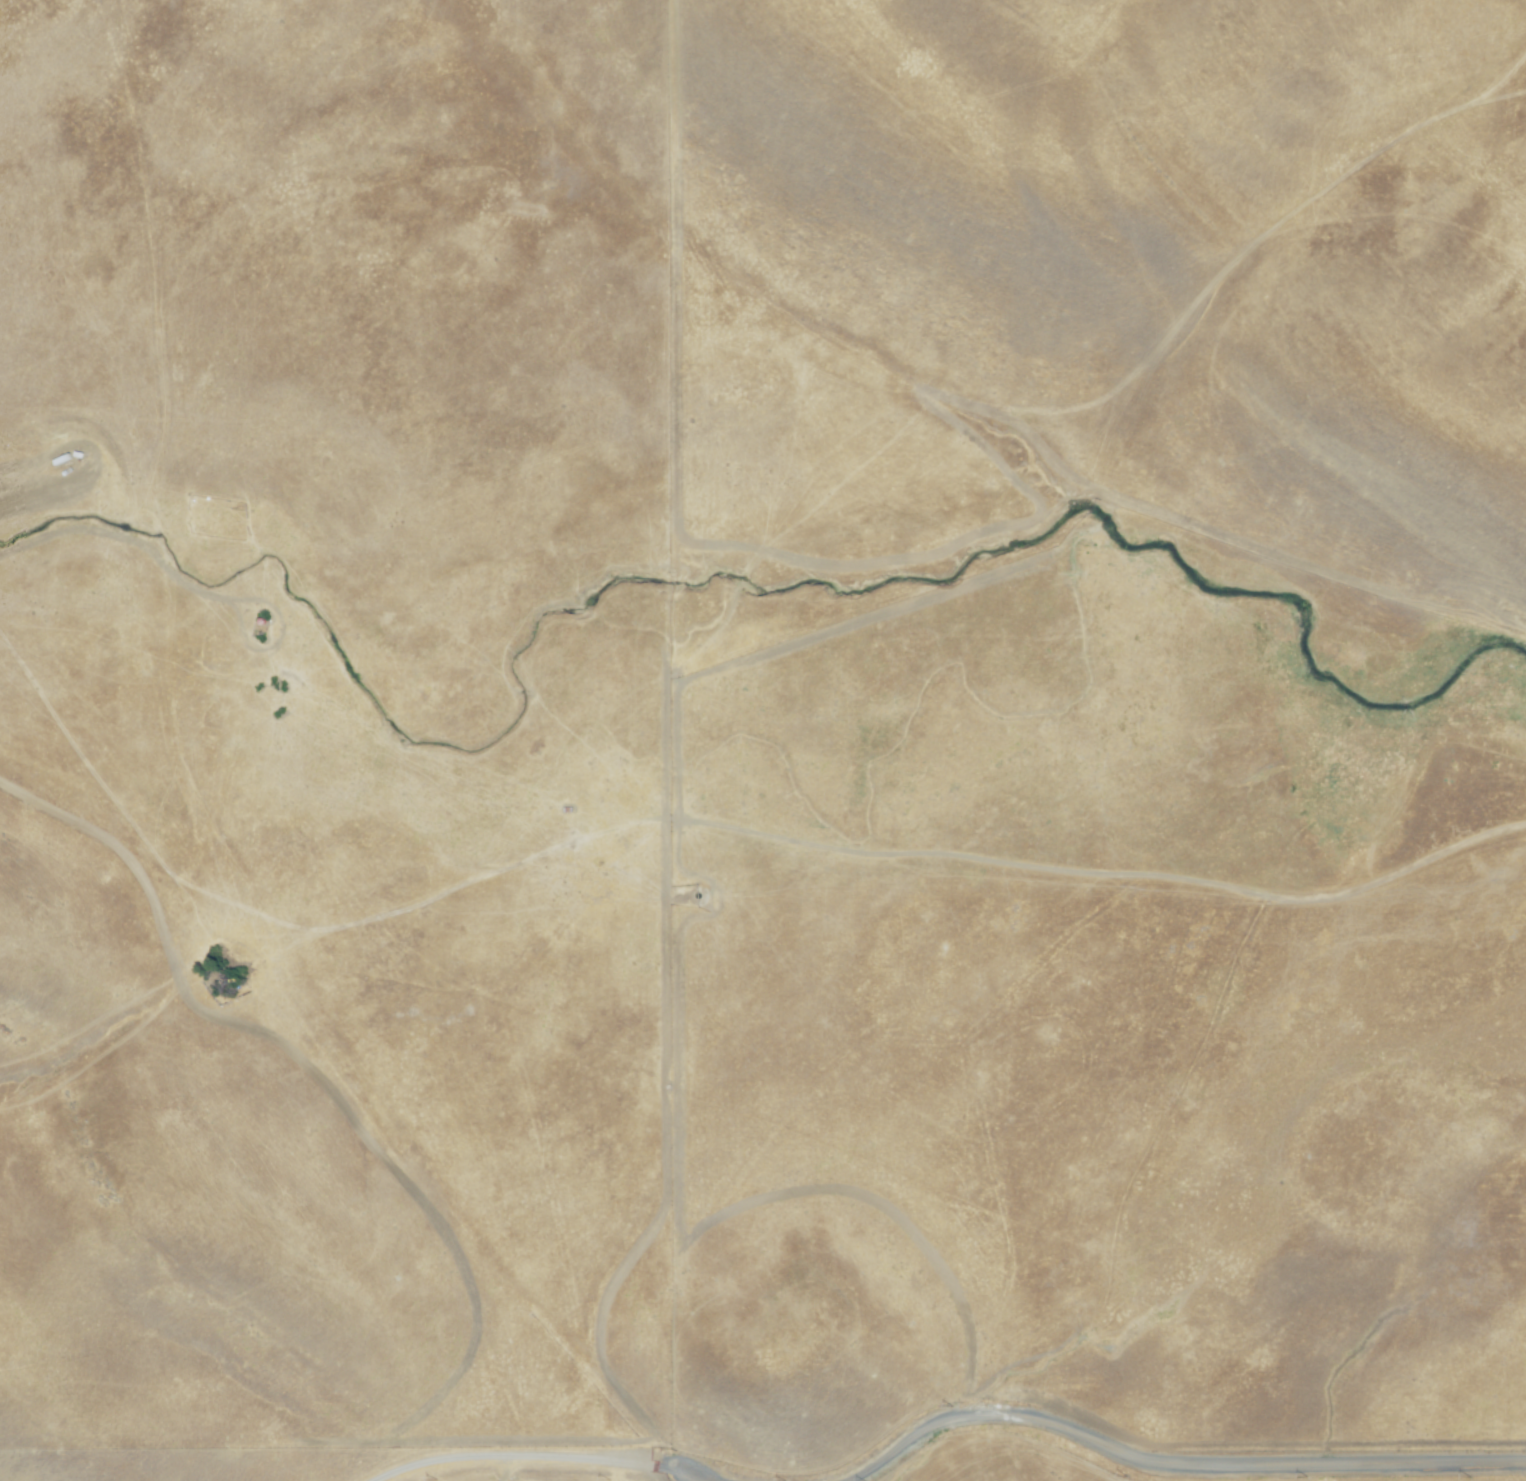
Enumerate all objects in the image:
road: (555, 1461)
road: (1171, 1461)

